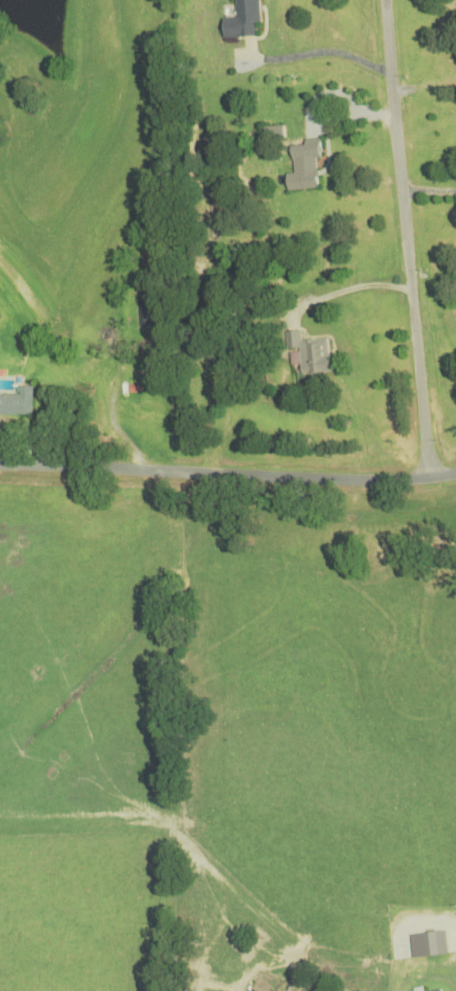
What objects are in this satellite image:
building: (243, 20)
building: (273, 134)
building: (304, 166)
road: (405, 239)
building: (308, 353)
building: (17, 402)
road: (113, 409)
building: (138, 412)
road: (228, 471)

